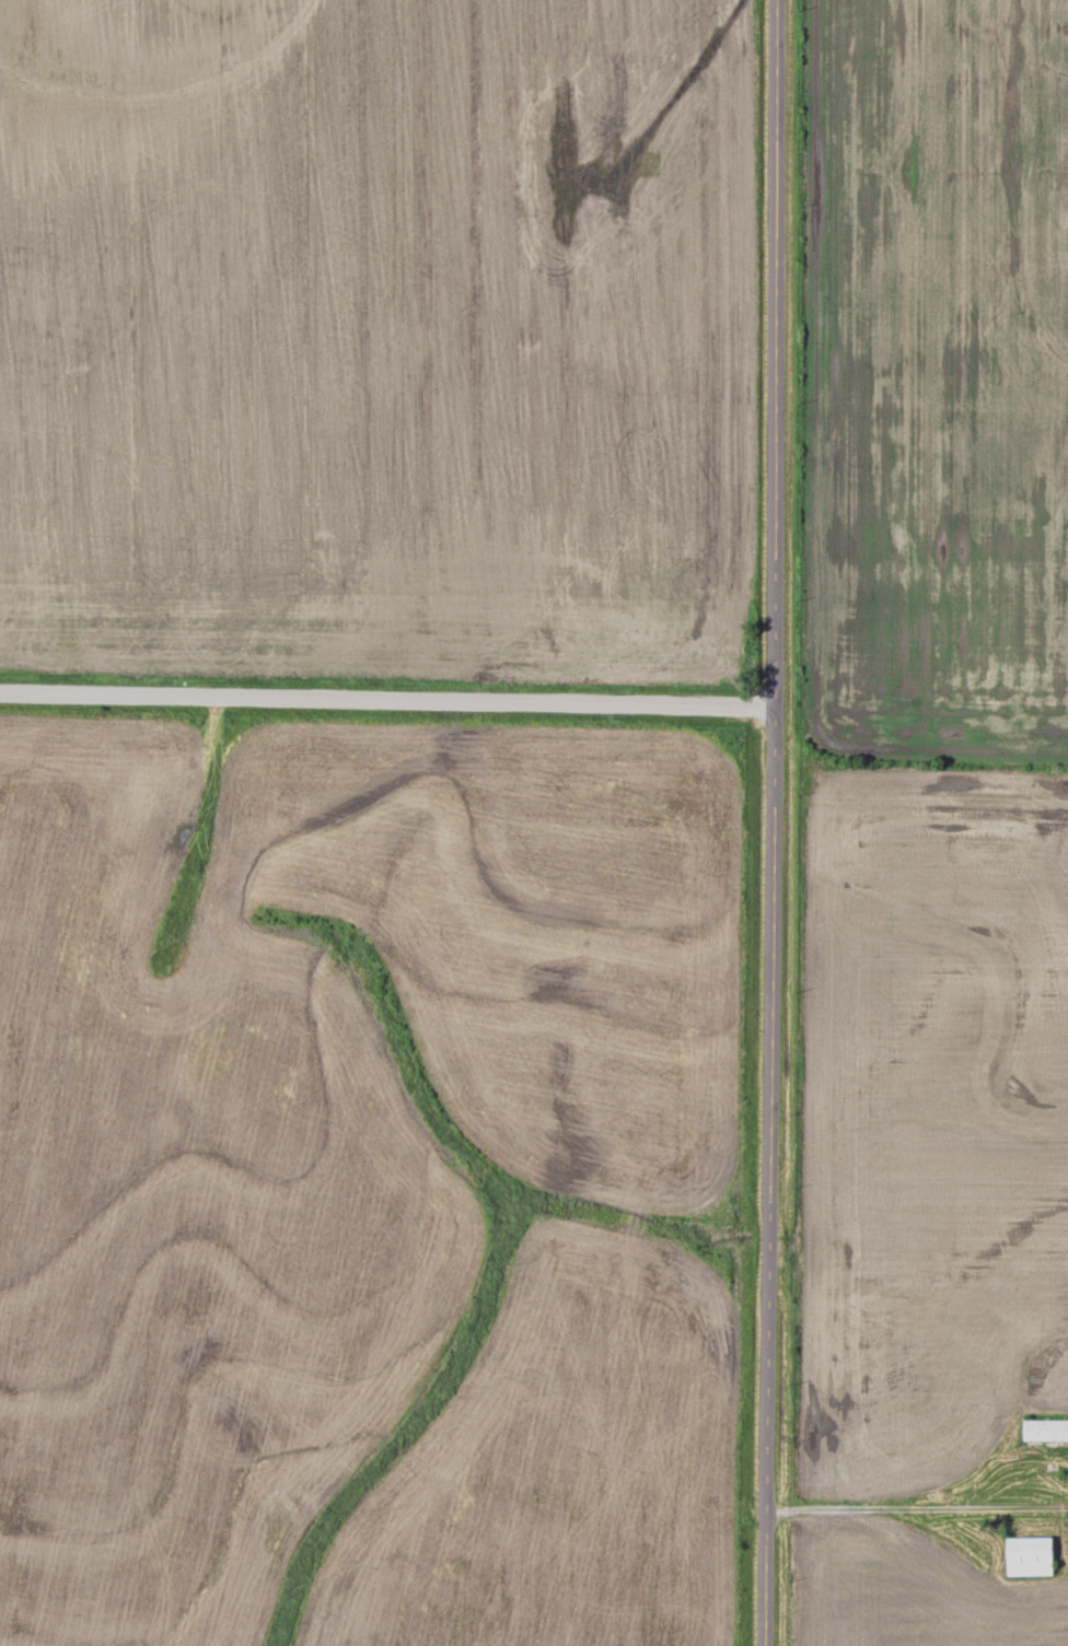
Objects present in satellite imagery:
road: (766, 363)
road: (382, 700)
road: (762, 1187)
building: (1044, 1432)
road: (914, 1501)
building: (1028, 1557)

